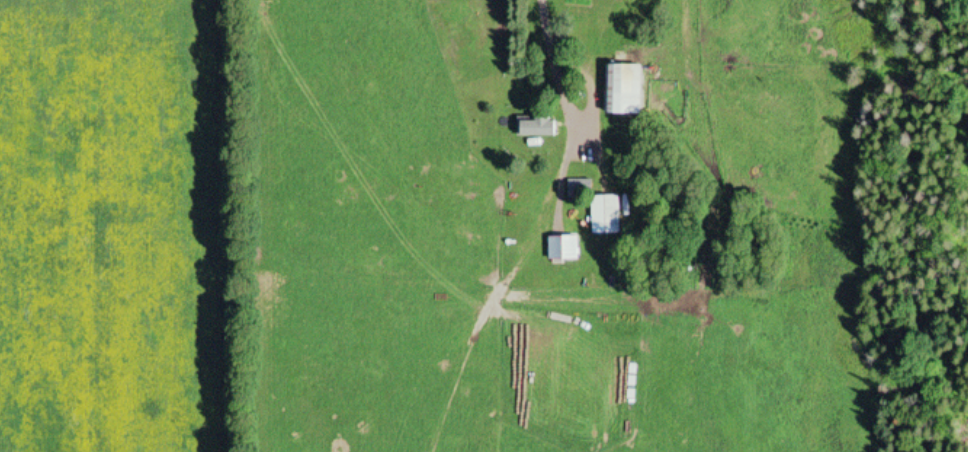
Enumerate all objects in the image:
building: (619, 91)
building: (533, 129)
building: (602, 215)
building: (560, 248)

